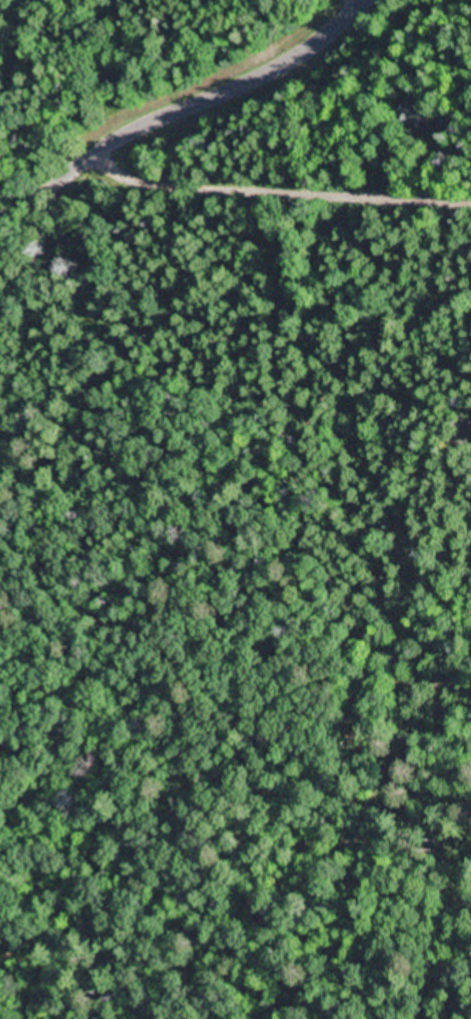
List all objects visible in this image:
road: (184, 102)
road: (293, 155)
road: (3, 156)
road: (175, 773)

